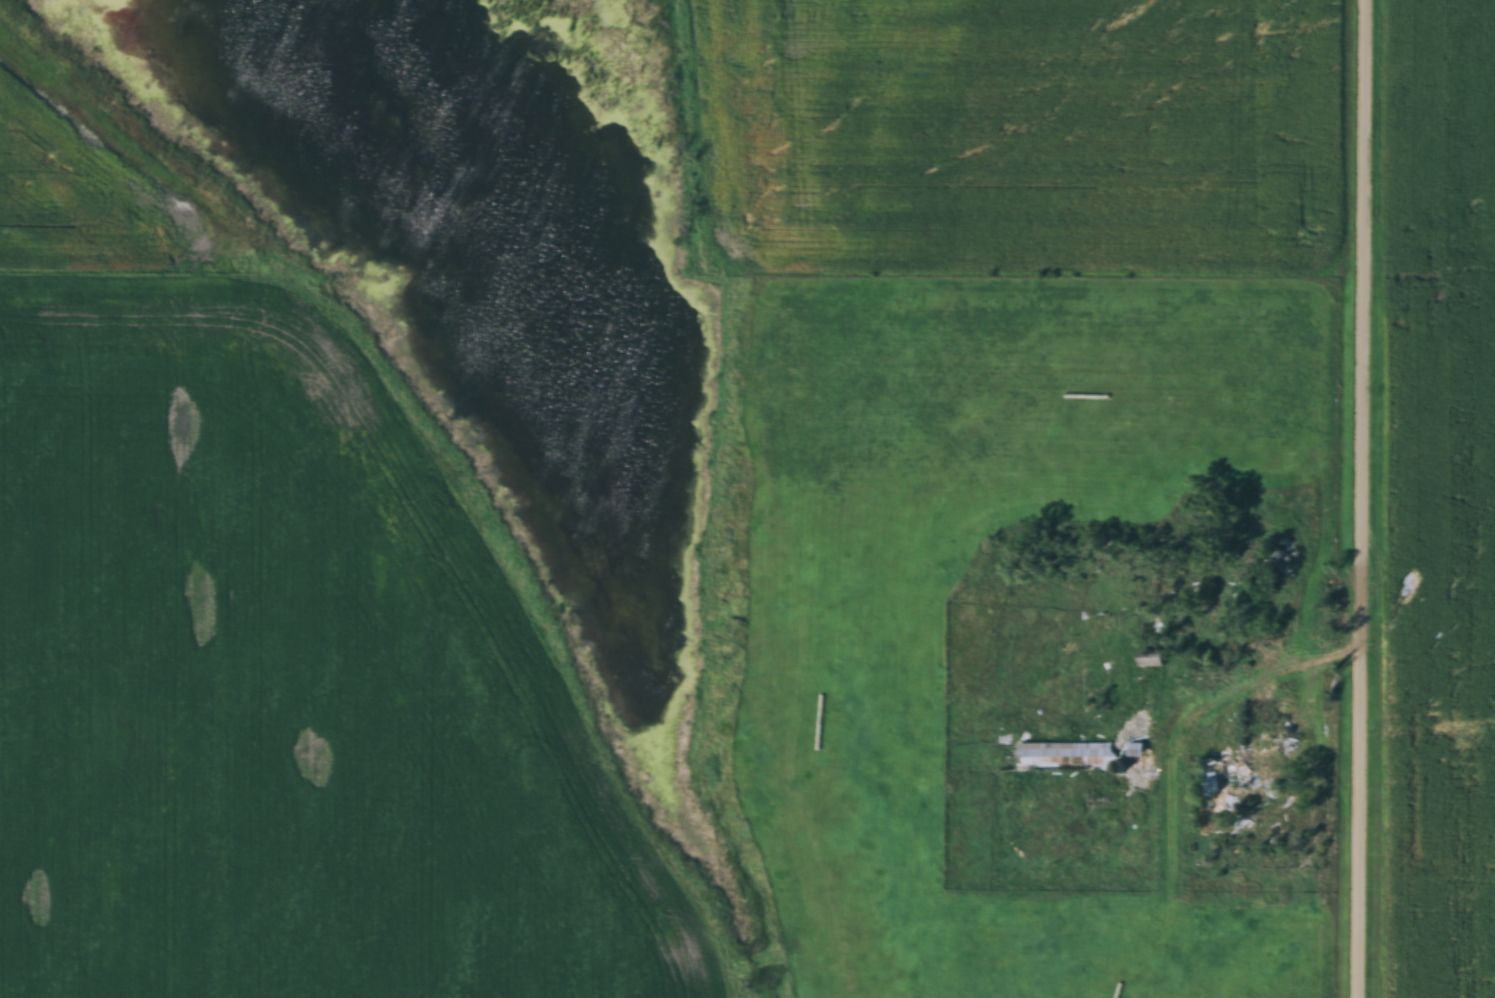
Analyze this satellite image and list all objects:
road: (1431, 261)
road: (1366, 499)
building: (1290, 557)
building: (1152, 659)
building: (1274, 731)
building: (1079, 757)
building: (1241, 769)
building: (1215, 797)

